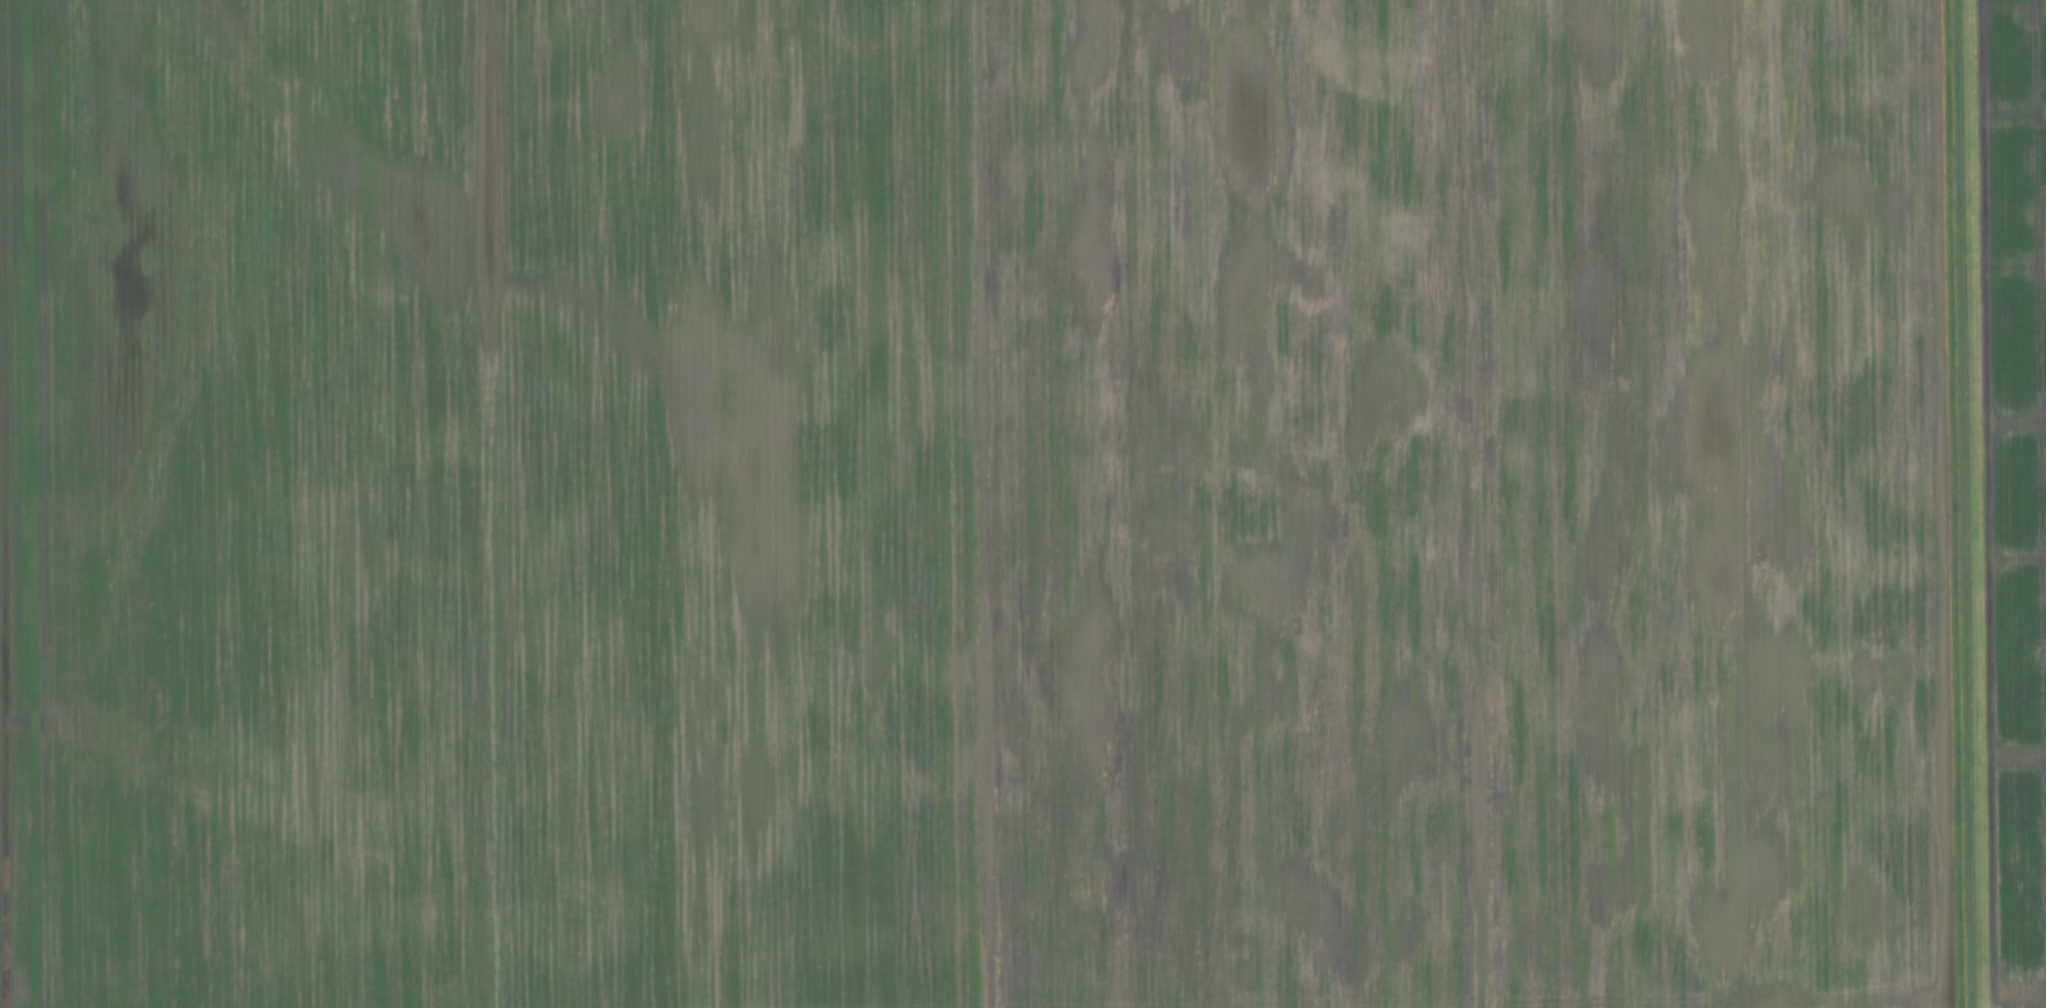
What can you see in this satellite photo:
road: (1965, 504)

